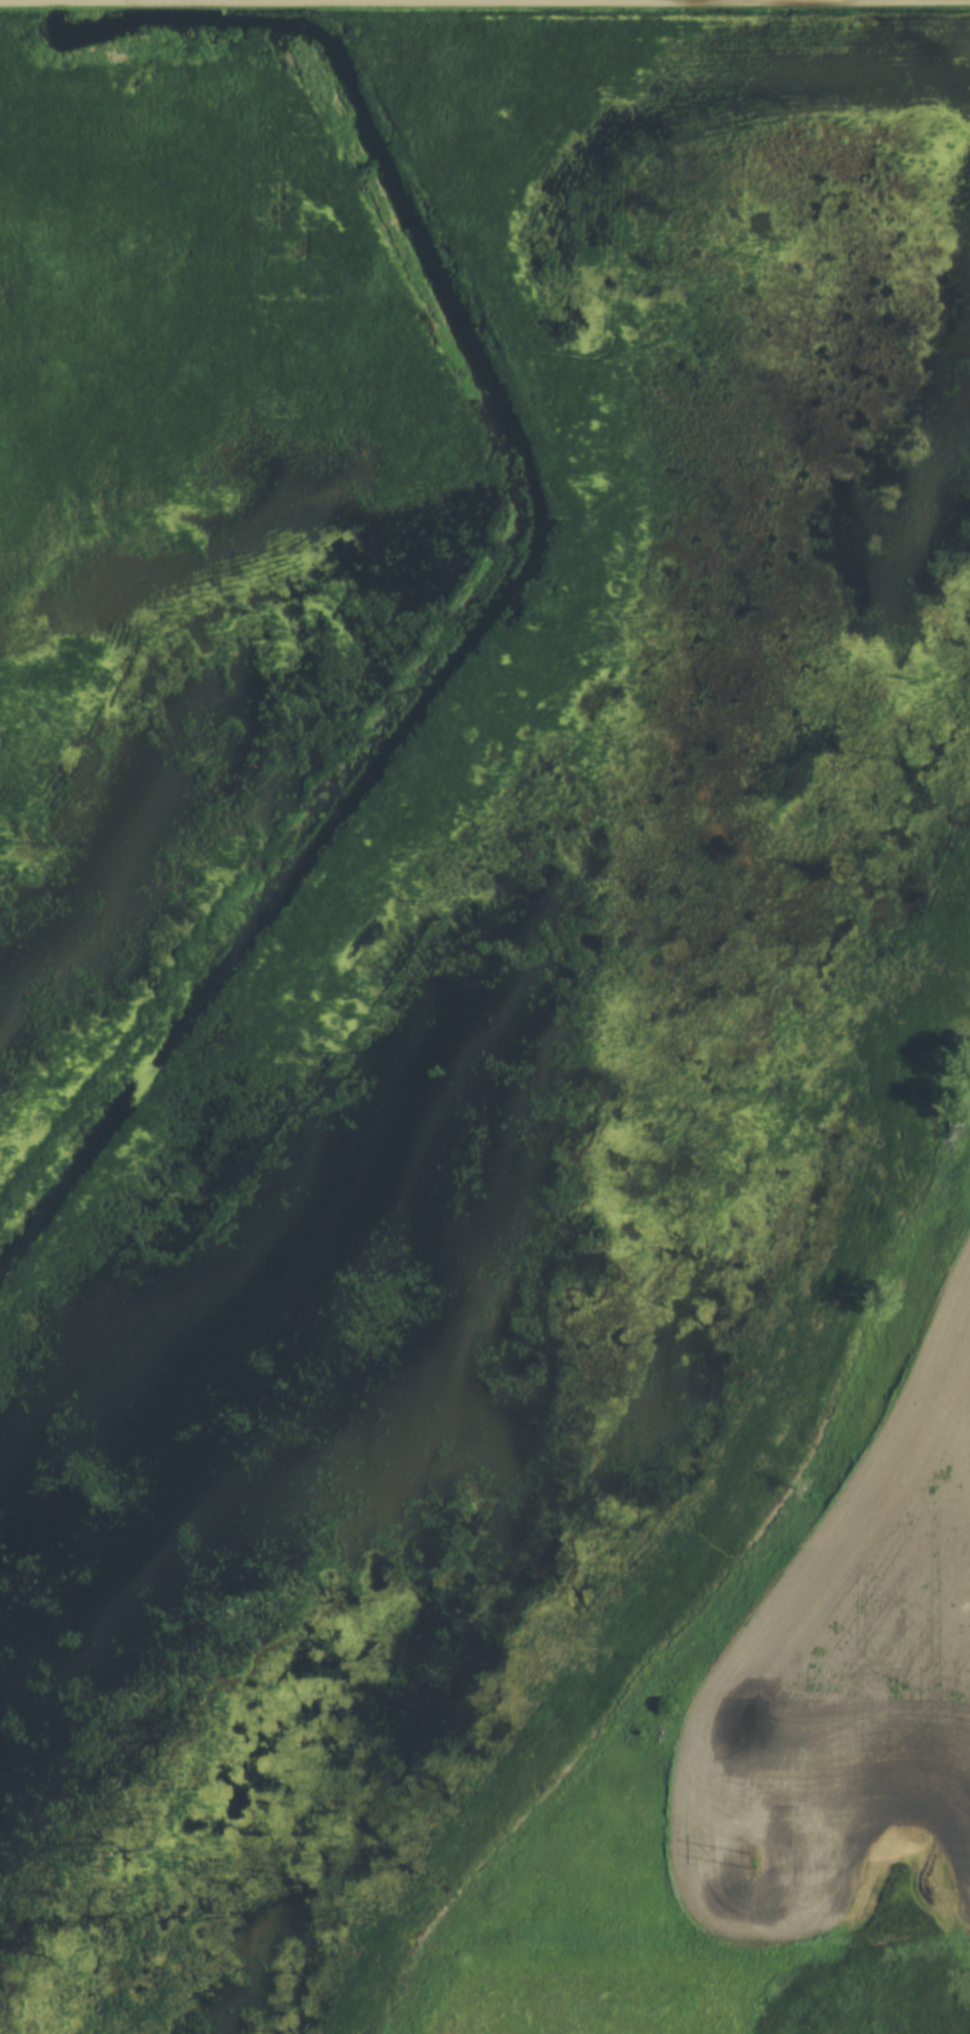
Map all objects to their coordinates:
road: (484, 1)
crop: (846, 1689)
power tower: (112, 1861)
power tower: (751, 1861)

